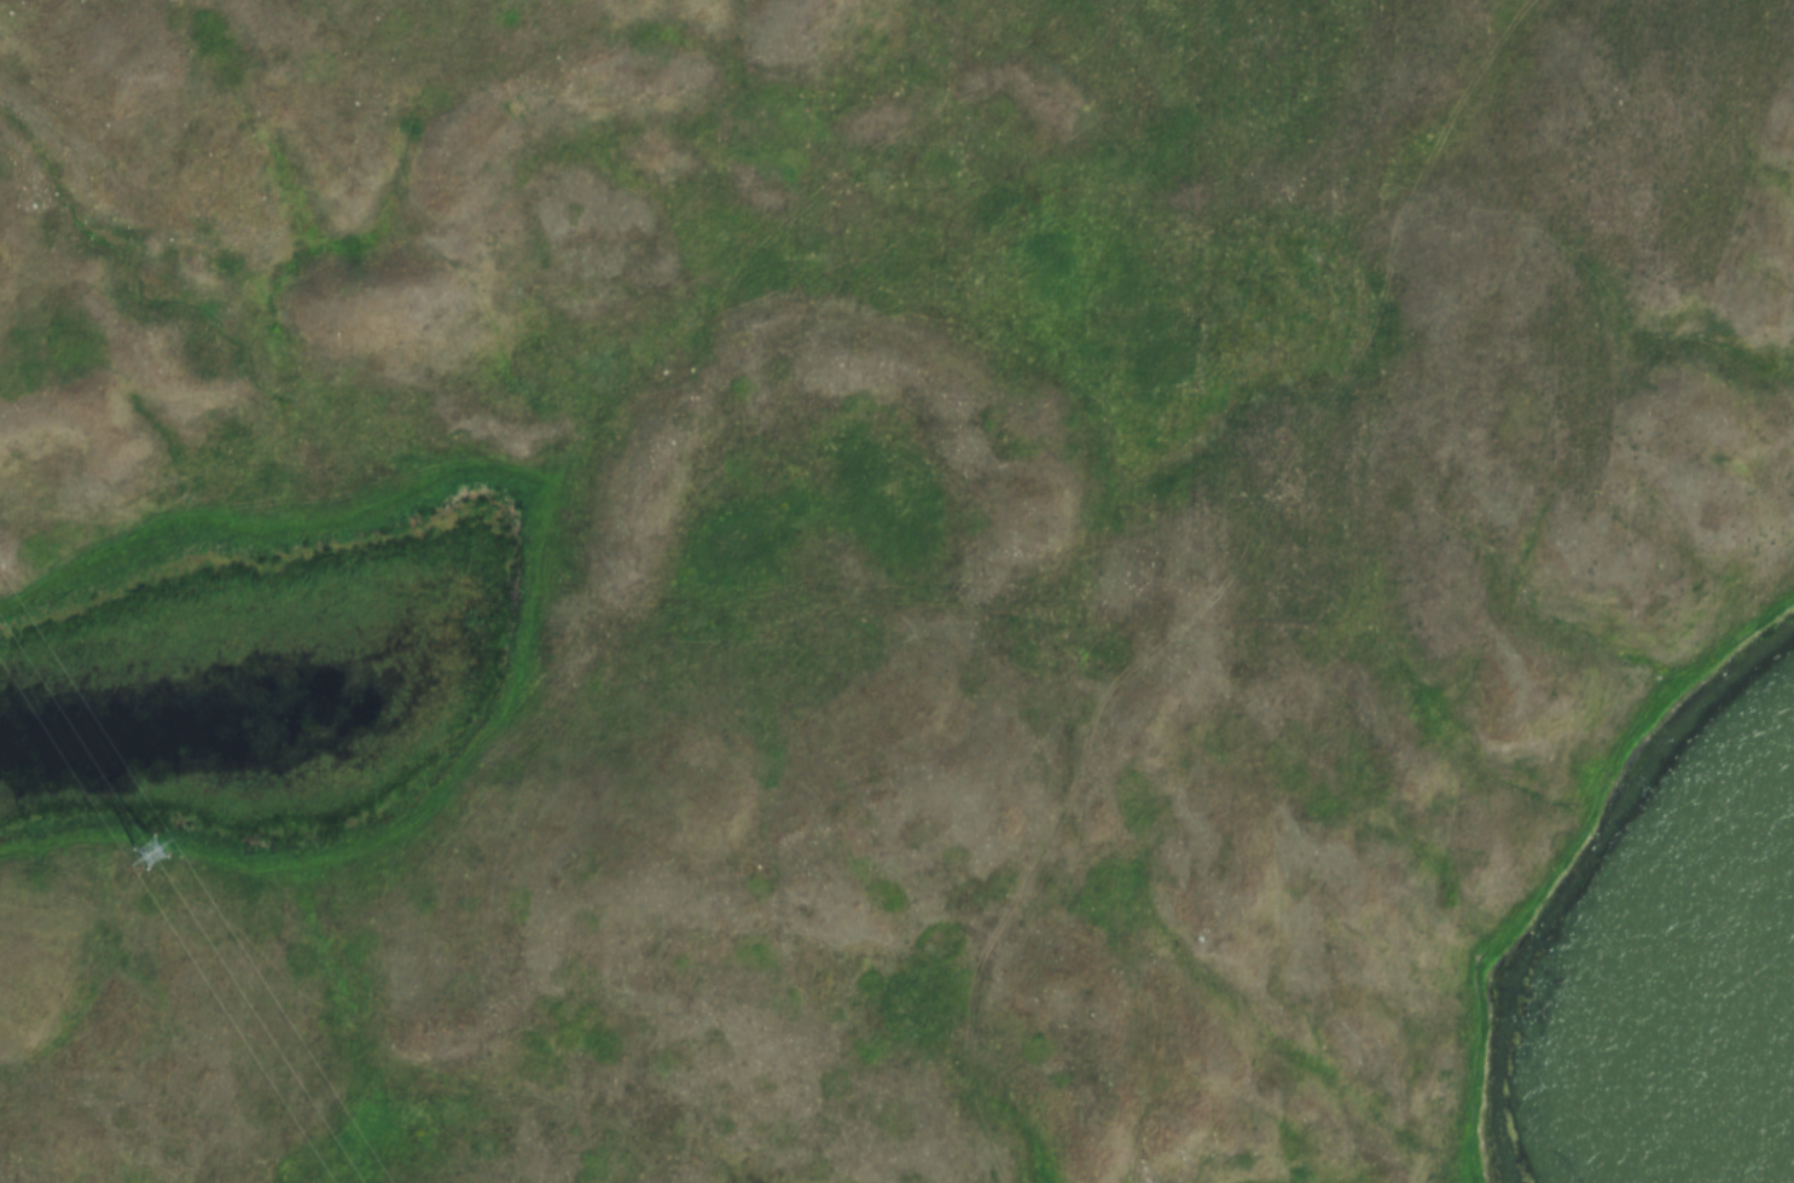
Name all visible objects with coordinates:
power tower: (152, 856)

